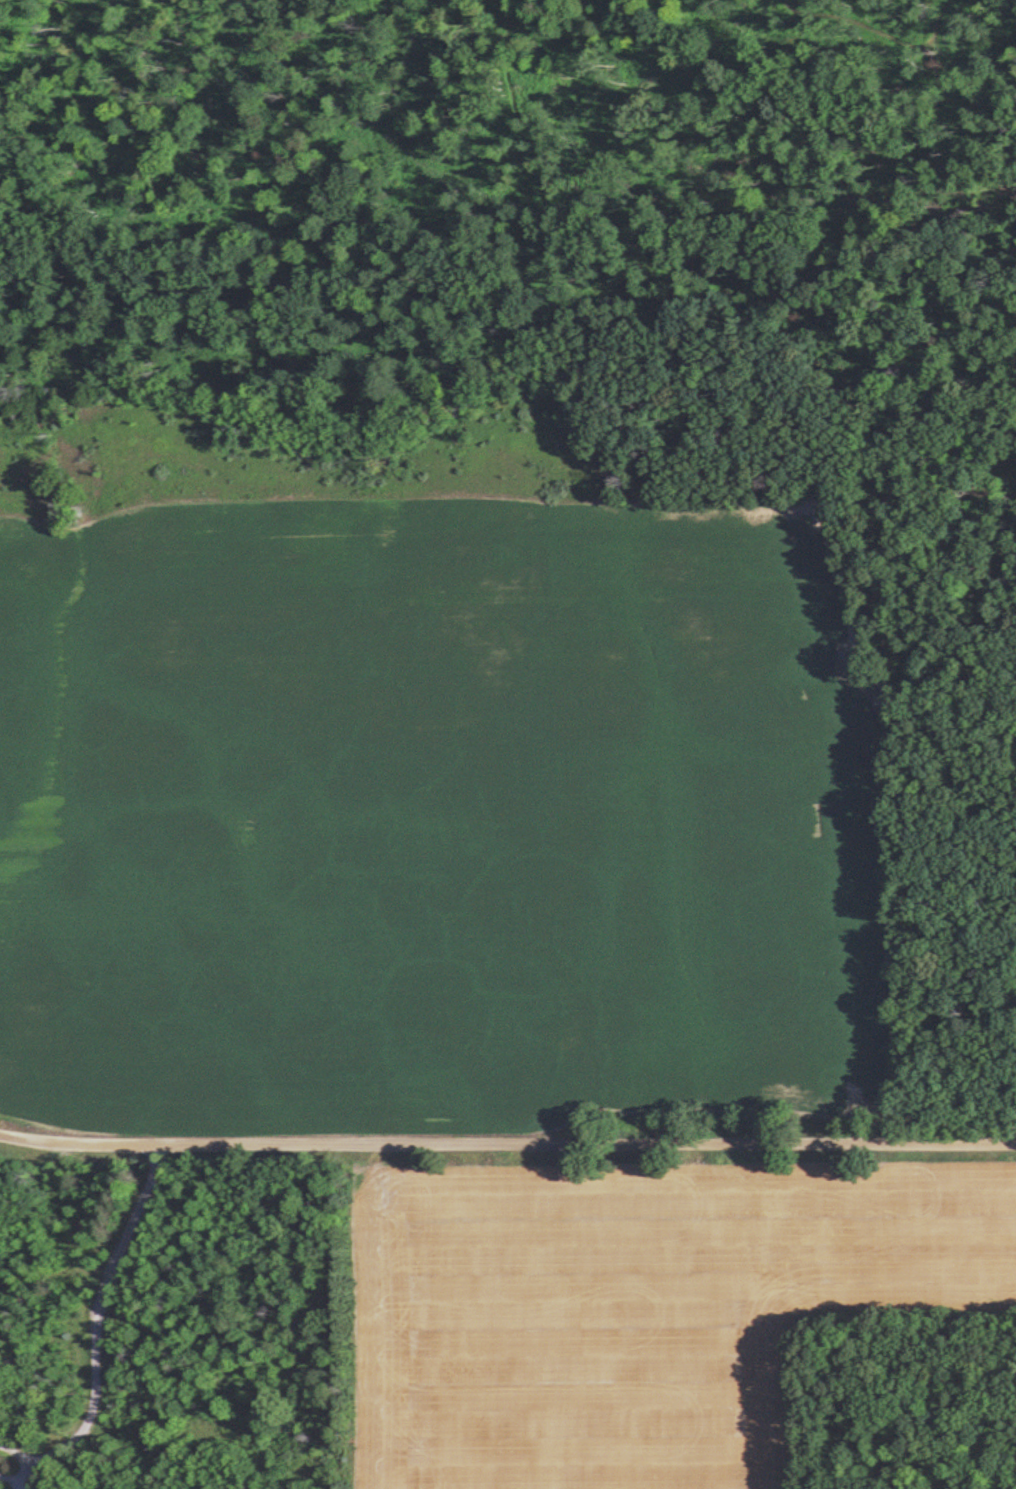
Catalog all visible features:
road: (507, 1142)
road: (94, 1316)

